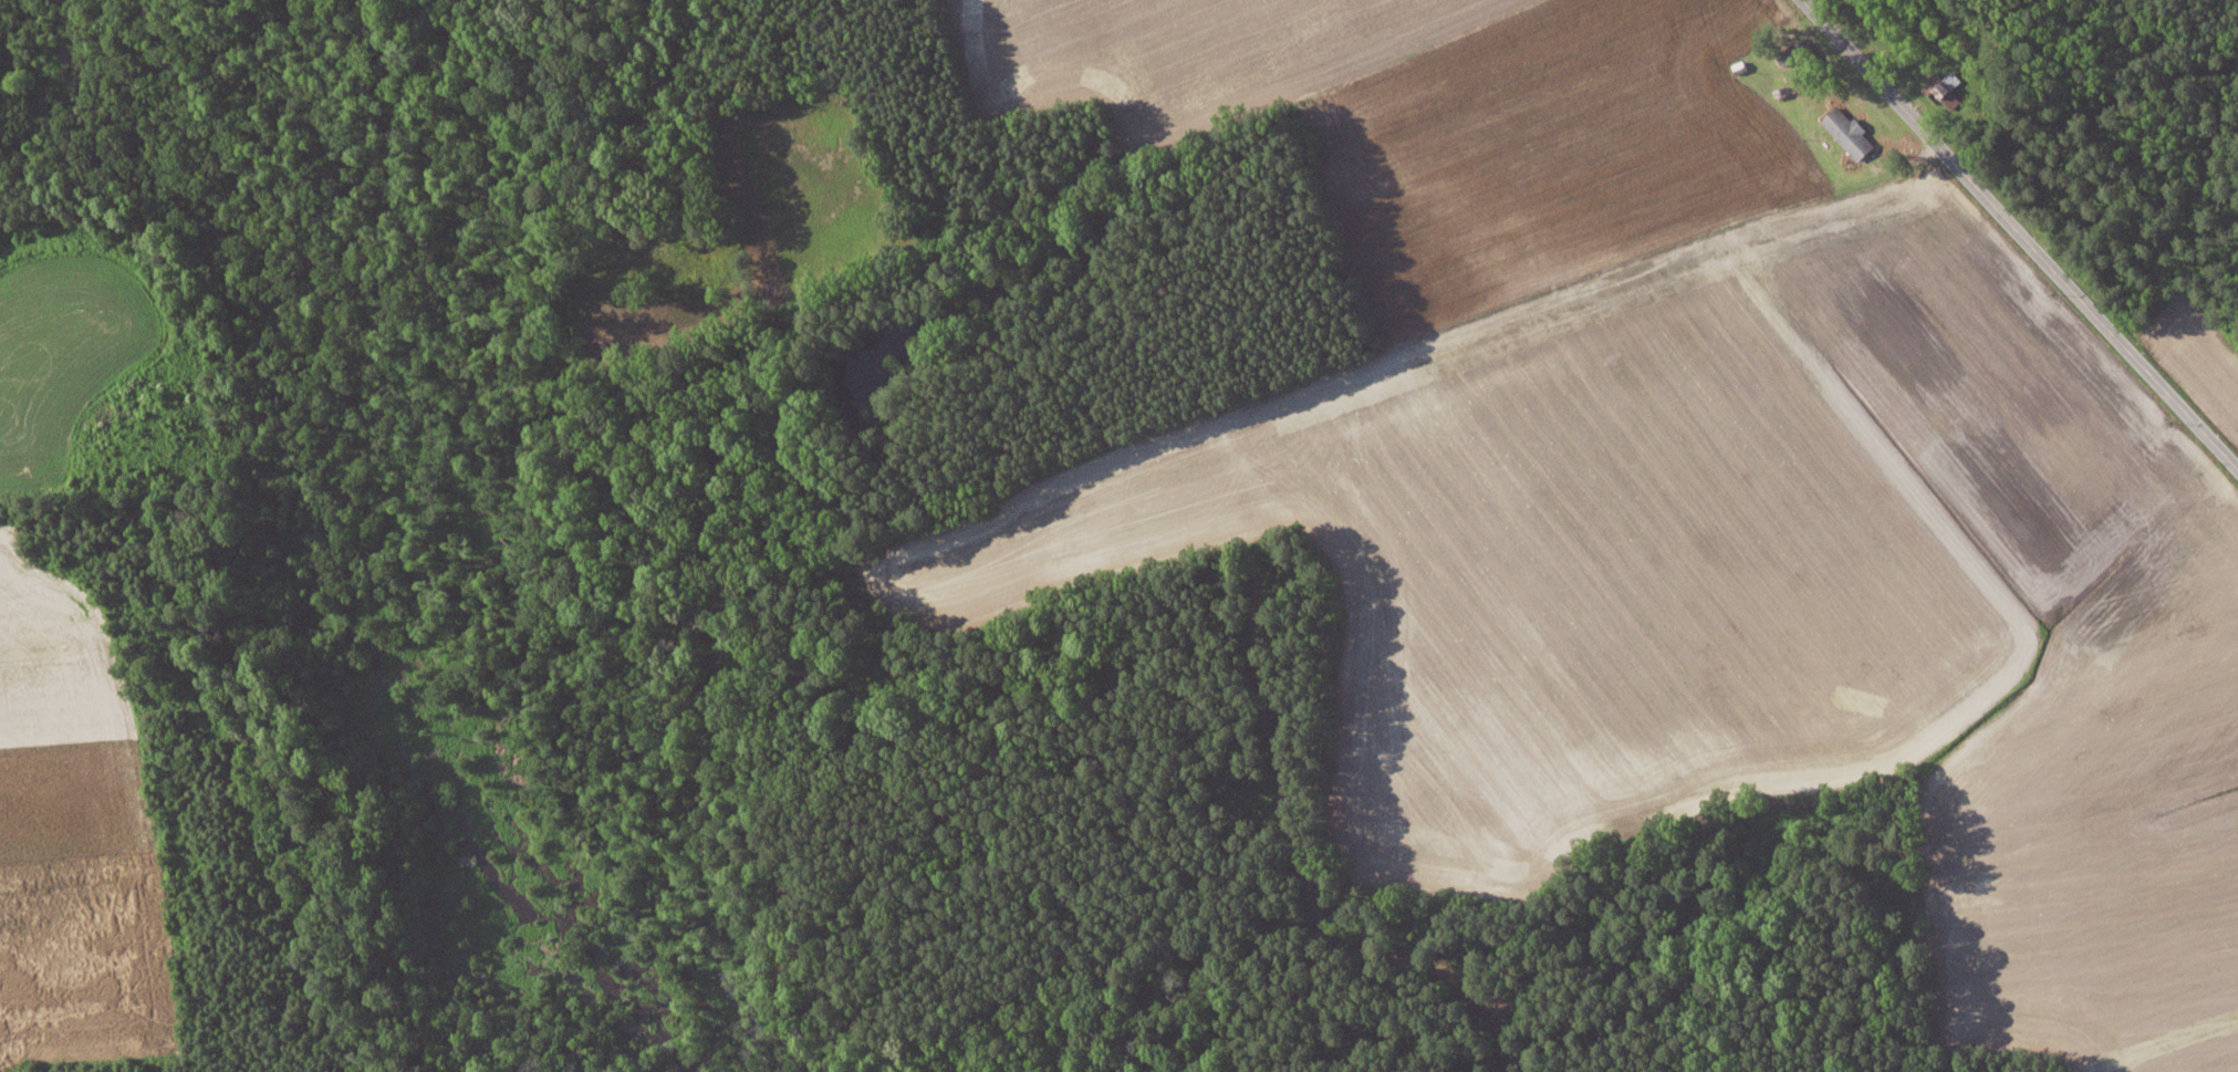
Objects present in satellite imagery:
building: (1800, 53)
building: (1944, 89)
building: (1851, 132)
road: (2021, 228)

